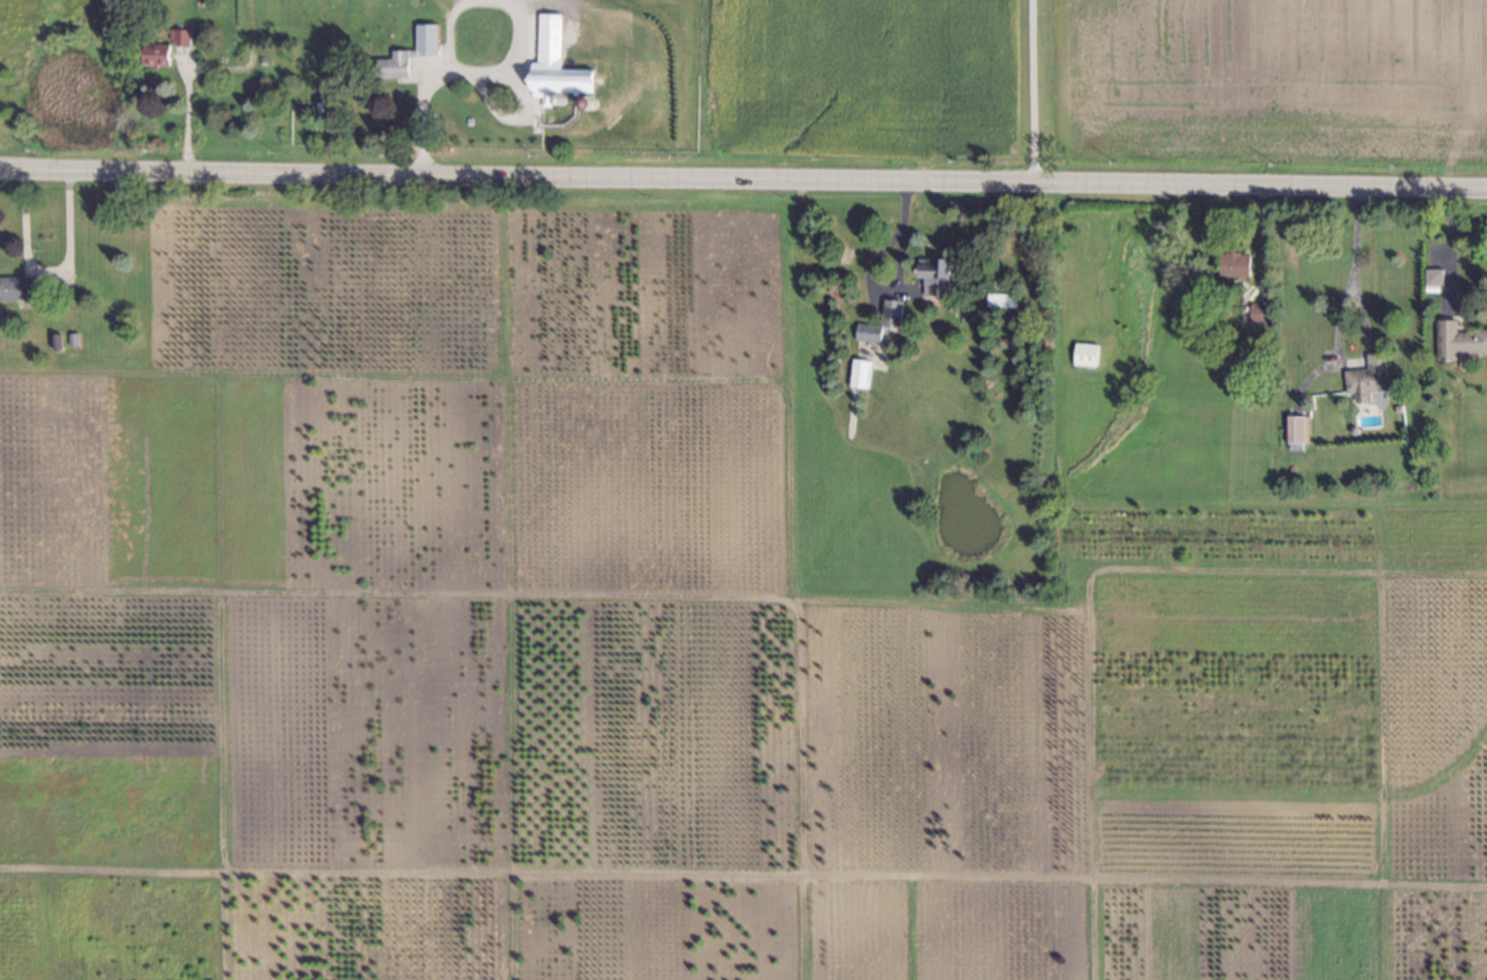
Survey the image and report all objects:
road: (445, 29)
building: (177, 38)
building: (423, 38)
building: (153, 57)
road: (507, 61)
building: (552, 63)
building: (391, 64)
road: (1030, 91)
building: (559, 98)
building: (589, 103)
road: (189, 115)
road: (420, 117)
road: (743, 180)
road: (1449, 245)
building: (1234, 263)
road: (1352, 267)
building: (938, 273)
building: (1431, 274)
building: (18, 288)
building: (1003, 298)
building: (1260, 312)
building: (893, 313)
building: (1264, 330)
building: (871, 332)
building: (1457, 338)
building: (1247, 339)
building: (71, 341)
building: (54, 343)
building: (1086, 357)
building: (860, 375)
building: (1370, 375)
building: (1396, 405)
building: (1351, 426)
building: (1298, 431)

